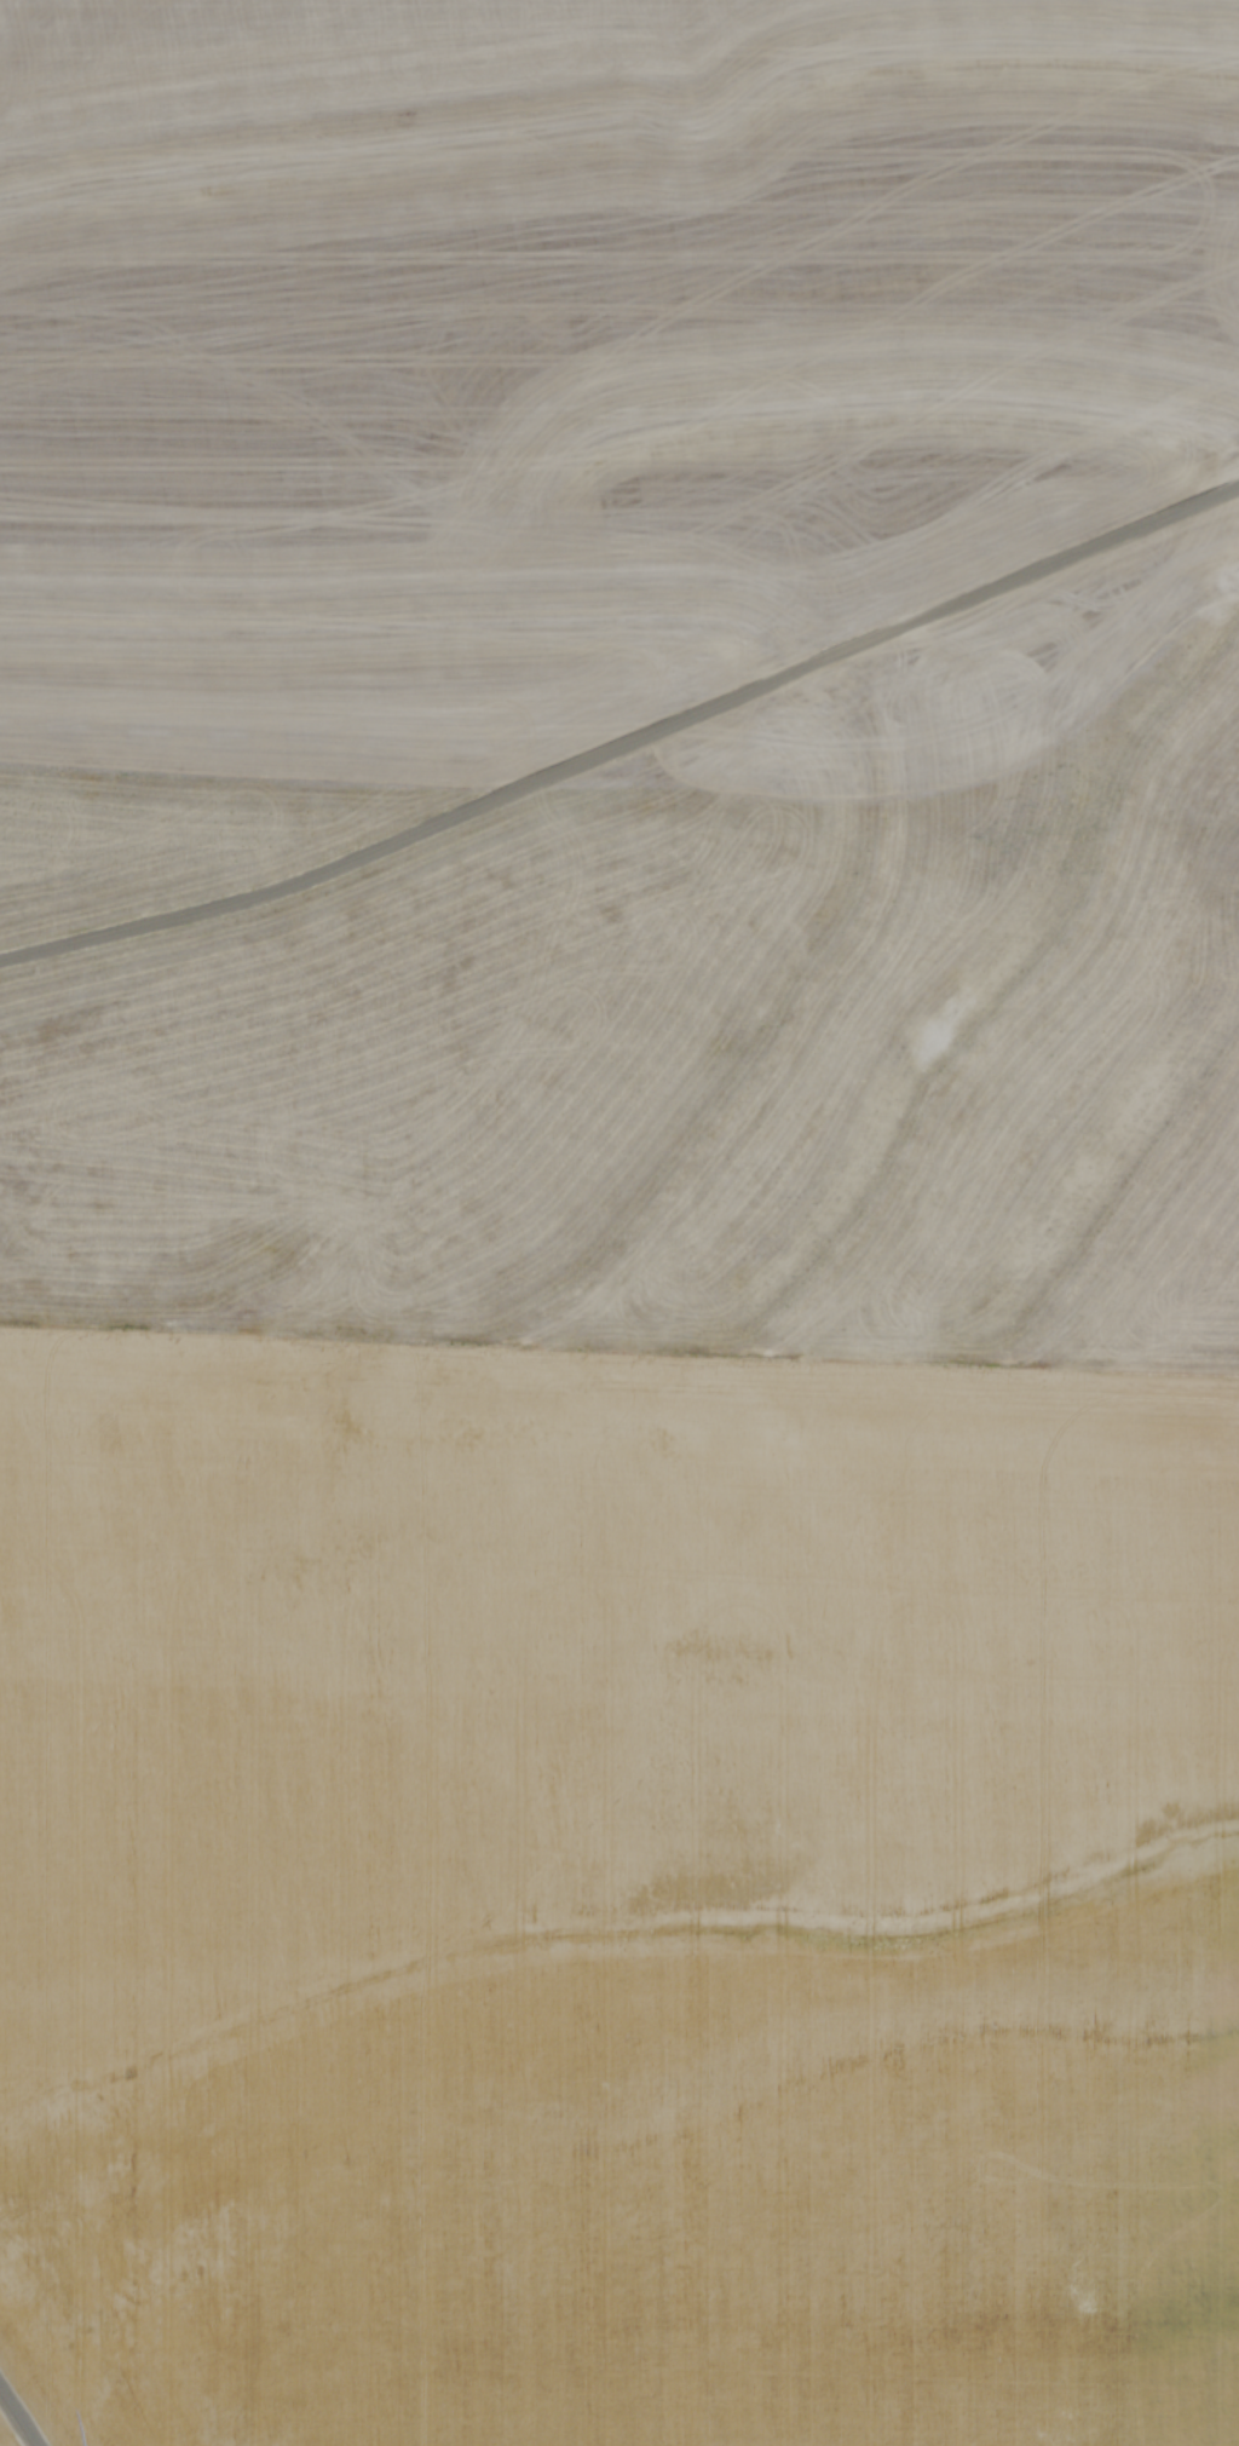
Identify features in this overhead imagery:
road: (21, 2412)

